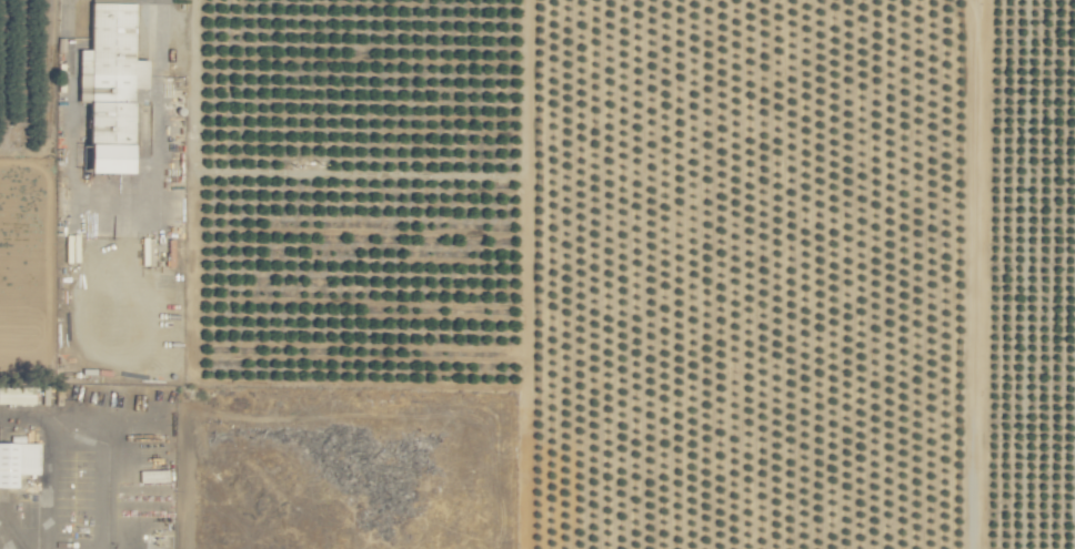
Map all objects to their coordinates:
building: (113, 88)
crop: (537, 274)
building: (154, 476)

